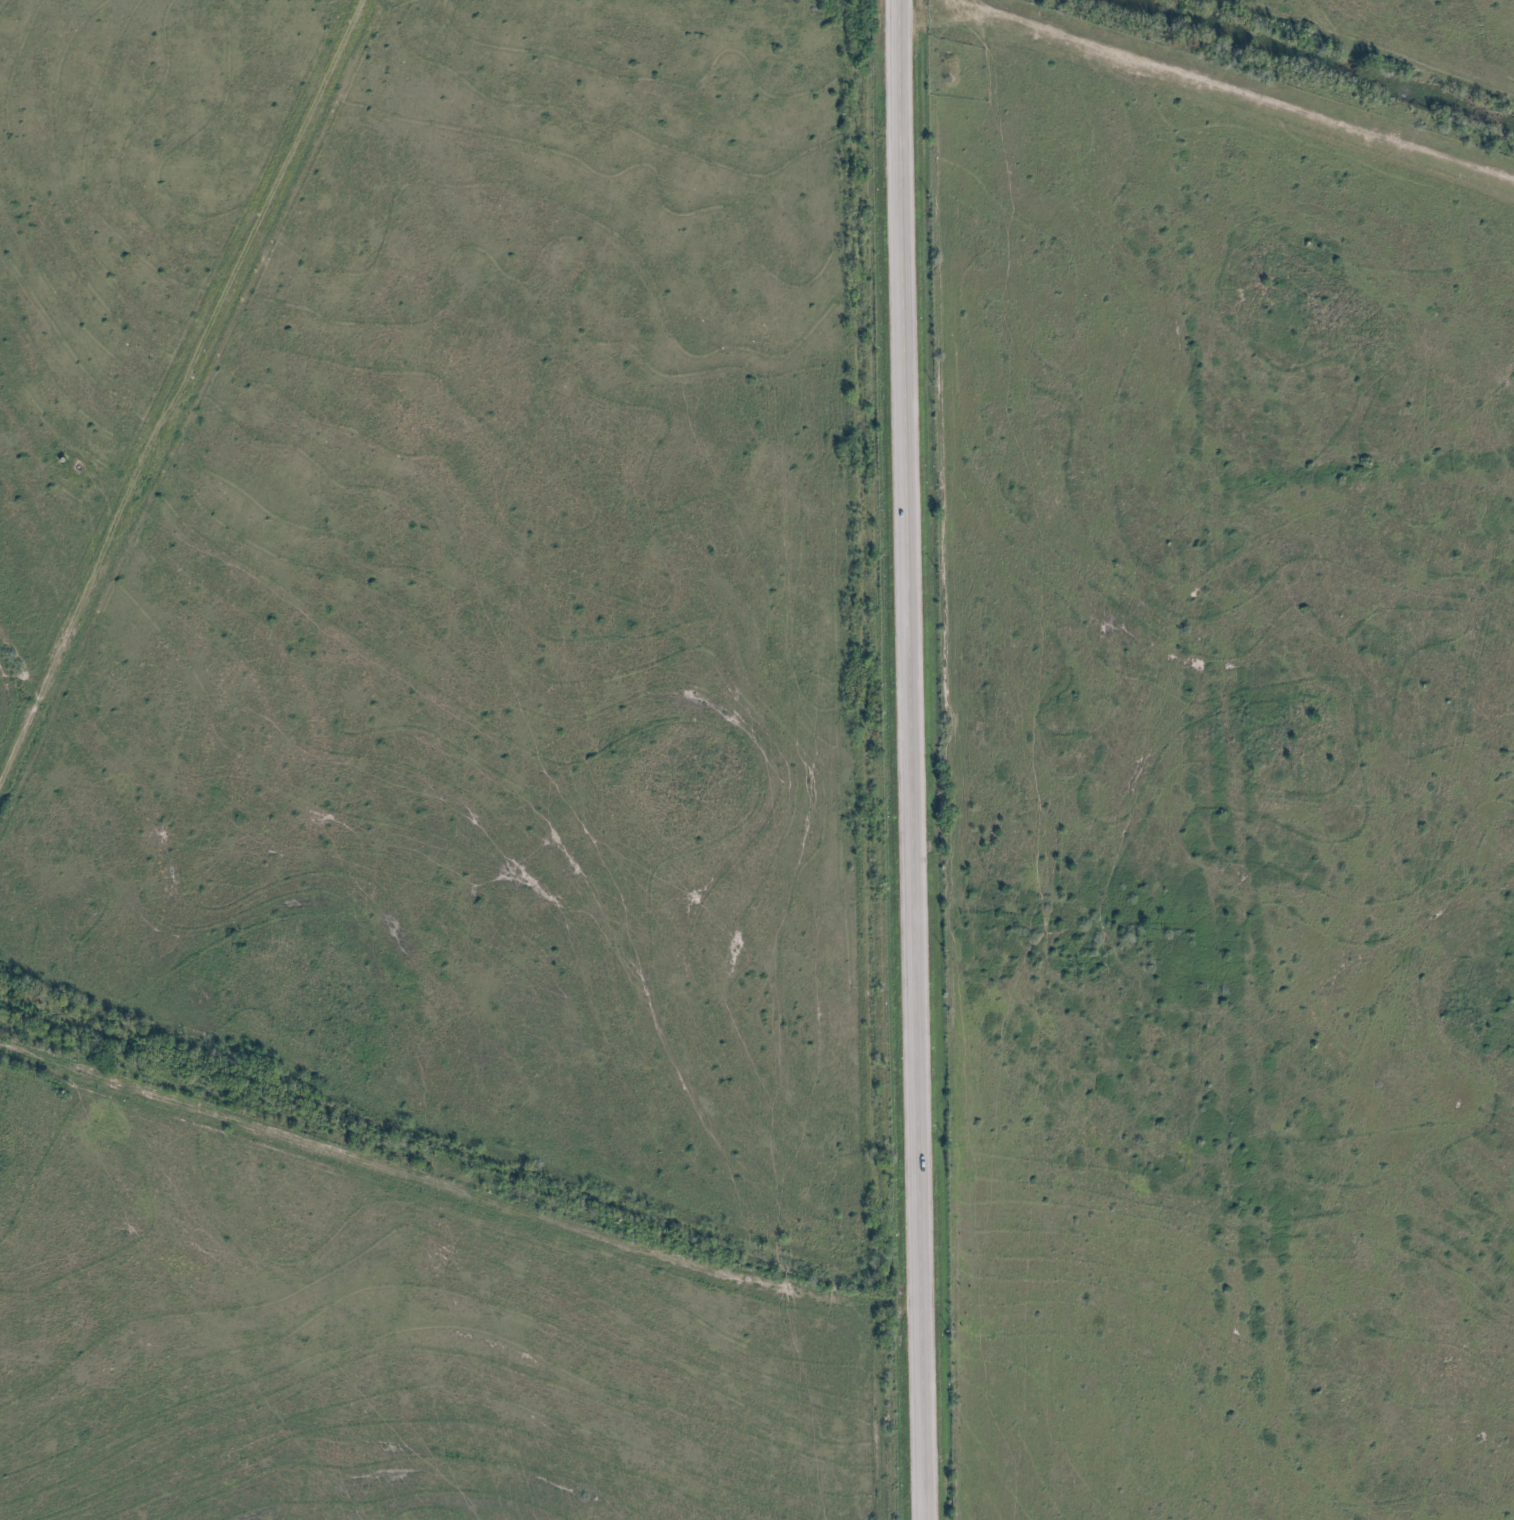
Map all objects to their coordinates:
road: (1237, 88)
road: (185, 396)
road: (909, 760)
road: (456, 1191)

